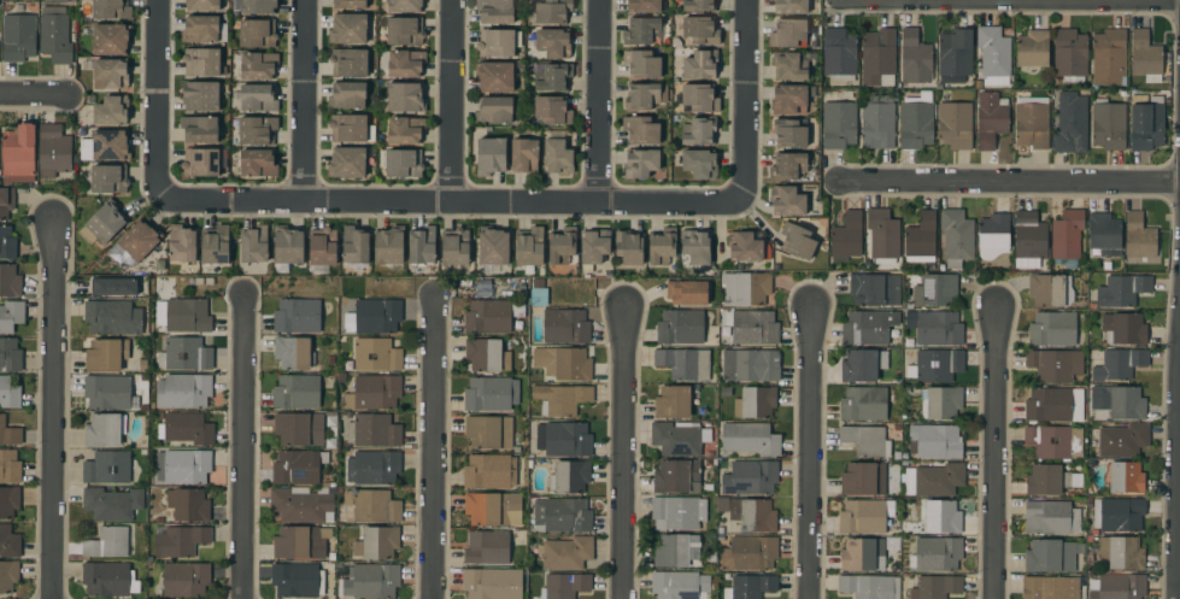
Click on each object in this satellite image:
building: (348, 4)
building: (202, 5)
building: (644, 5)
building: (699, 5)
building: (258, 6)
building: (404, 6)
building: (791, 6)
building: (111, 8)
building: (495, 11)
building: (552, 11)
building: (347, 28)
building: (200, 29)
building: (404, 30)
building: (642, 30)
building: (700, 30)
building: (257, 33)
building: (788, 33)
building: (54, 35)
building: (18, 36)
building: (110, 39)
building: (498, 42)
building: (552, 42)
building: (676, 42)
building: (1032, 48)
building: (839, 54)
building: (993, 54)
building: (877, 55)
building: (955, 55)
building: (1069, 55)
building: (1109, 57)
building: (1145, 57)
building: (915, 58)
building: (202, 61)
building: (348, 61)
building: (405, 63)
building: (641, 64)
building: (700, 64)
building: (258, 65)
building: (789, 66)
building: (110, 74)
building: (494, 76)
building: (552, 76)
road: (33, 94)
building: (199, 95)
building: (347, 95)
road: (155, 96)
building: (256, 96)
building: (645, 96)
road: (748, 96)
building: (405, 98)
building: (699, 98)
building: (788, 99)
road: (301, 100)
road: (447, 100)
road: (597, 100)
building: (552, 110)
building: (110, 111)
building: (494, 111)
building: (990, 119)
building: (877, 121)
building: (916, 122)
building: (1032, 122)
building: (1146, 122)
building: (1070, 123)
building: (1108, 124)
building: (838, 125)
building: (955, 125)
building: (347, 128)
building: (199, 129)
building: (257, 129)
building: (405, 129)
building: (640, 129)
building: (699, 130)
building: (789, 133)
building: (105, 146)
building: (53, 152)
building: (18, 154)
building: (489, 157)
building: (524, 157)
building: (557, 157)
building: (202, 162)
building: (257, 163)
building: (346, 163)
building: (401, 163)
building: (641, 163)
building: (700, 164)
building: (787, 165)
building: (108, 178)
road: (1011, 182)
road: (453, 200)
building: (6, 201)
building: (787, 201)
building: (105, 222)
building: (1103, 234)
building: (993, 235)
building: (1067, 235)
building: (846, 236)
building: (882, 236)
building: (956, 236)
building: (1029, 236)
building: (1139, 239)
building: (921, 240)
building: (797, 241)
building: (7, 243)
building: (134, 243)
building: (181, 243)
building: (215, 245)
building: (254, 245)
building: (287, 246)
building: (354, 246)
building: (388, 246)
building: (422, 246)
building: (454, 246)
building: (493, 246)
building: (562, 246)
building: (662, 246)
building: (695, 246)
building: (744, 246)
building: (322, 247)
building: (529, 247)
building: (594, 247)
building: (628, 247)
building: (10, 281)
building: (538, 283)
building: (113, 287)
building: (744, 288)
building: (875, 289)
building: (1050, 289)
building: (934, 290)
building: (1122, 290)
building: (687, 293)
building: (538, 296)
building: (11, 316)
building: (187, 316)
building: (297, 316)
building: (376, 316)
building: (491, 316)
building: (112, 317)
building: (565, 327)
building: (680, 327)
building: (752, 327)
building: (870, 327)
building: (935, 328)
building: (1123, 328)
building: (1052, 329)
building: (293, 353)
building: (10, 354)
building: (105, 354)
building: (184, 354)
building: (376, 354)
building: (485, 354)
building: (564, 363)
building: (683, 363)
building: (1119, 364)
building: (142, 365)
building: (750, 365)
building: (862, 365)
building: (938, 365)
building: (1055, 365)
building: (183, 390)
building: (297, 392)
building: (374, 392)
building: (108, 393)
building: (491, 393)
building: (8, 394)
building: (560, 399)
building: (1119, 401)
building: (673, 403)
building: (755, 403)
building: (943, 403)
building: (863, 404)
building: (1053, 404)
road: (52, 412)
building: (330, 422)
building: (186, 428)
building: (299, 429)
building: (105, 430)
building: (372, 430)
building: (488, 431)
building: (8, 433)
building: (679, 437)
building: (748, 437)
building: (563, 439)
building: (865, 440)
building: (935, 440)
building: (1122, 440)
building: (1055, 441)
building: (330, 444)
road: (242, 447)
road: (433, 447)
road: (622, 453)
road: (812, 453)
road: (994, 453)
road: (1175, 464)
building: (8, 466)
building: (186, 466)
building: (298, 466)
building: (106, 468)
building: (372, 468)
building: (489, 471)
building: (569, 476)
building: (676, 476)
building: (750, 477)
building: (1123, 477)
building: (863, 478)
building: (933, 480)
building: (1049, 480)
building: (8, 501)
building: (112, 503)
building: (301, 504)
building: (190, 505)
building: (722, 505)
building: (372, 506)
building: (493, 509)
building: (677, 512)
building: (753, 515)
building: (1119, 515)
building: (560, 516)
building: (864, 516)
building: (943, 517)
building: (1050, 518)
building: (178, 540)
building: (8, 542)
building: (107, 542)
building: (300, 542)
building: (377, 542)
building: (491, 546)
building: (676, 550)
building: (1121, 552)
building: (565, 553)
building: (748, 553)
building: (935, 553)
building: (862, 554)
building: (1051, 557)
building: (7, 575)
building: (108, 580)
building: (186, 580)
building: (297, 580)
building: (370, 581)
building: (492, 583)
building: (679, 585)
building: (564, 586)
building: (869, 586)
building: (750, 587)
building: (935, 587)
building: (1116, 587)
building: (1049, 588)

